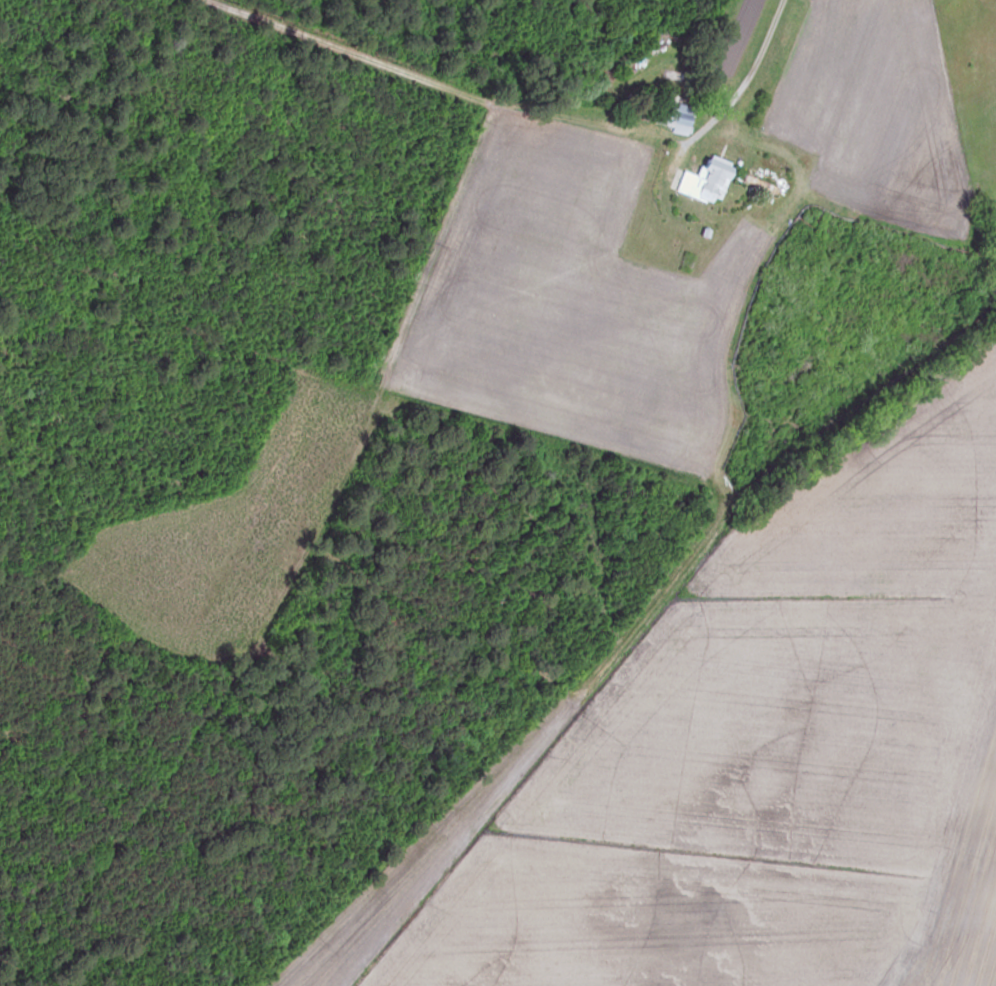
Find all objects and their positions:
road: (755, 80)
building: (671, 117)
building: (703, 180)

